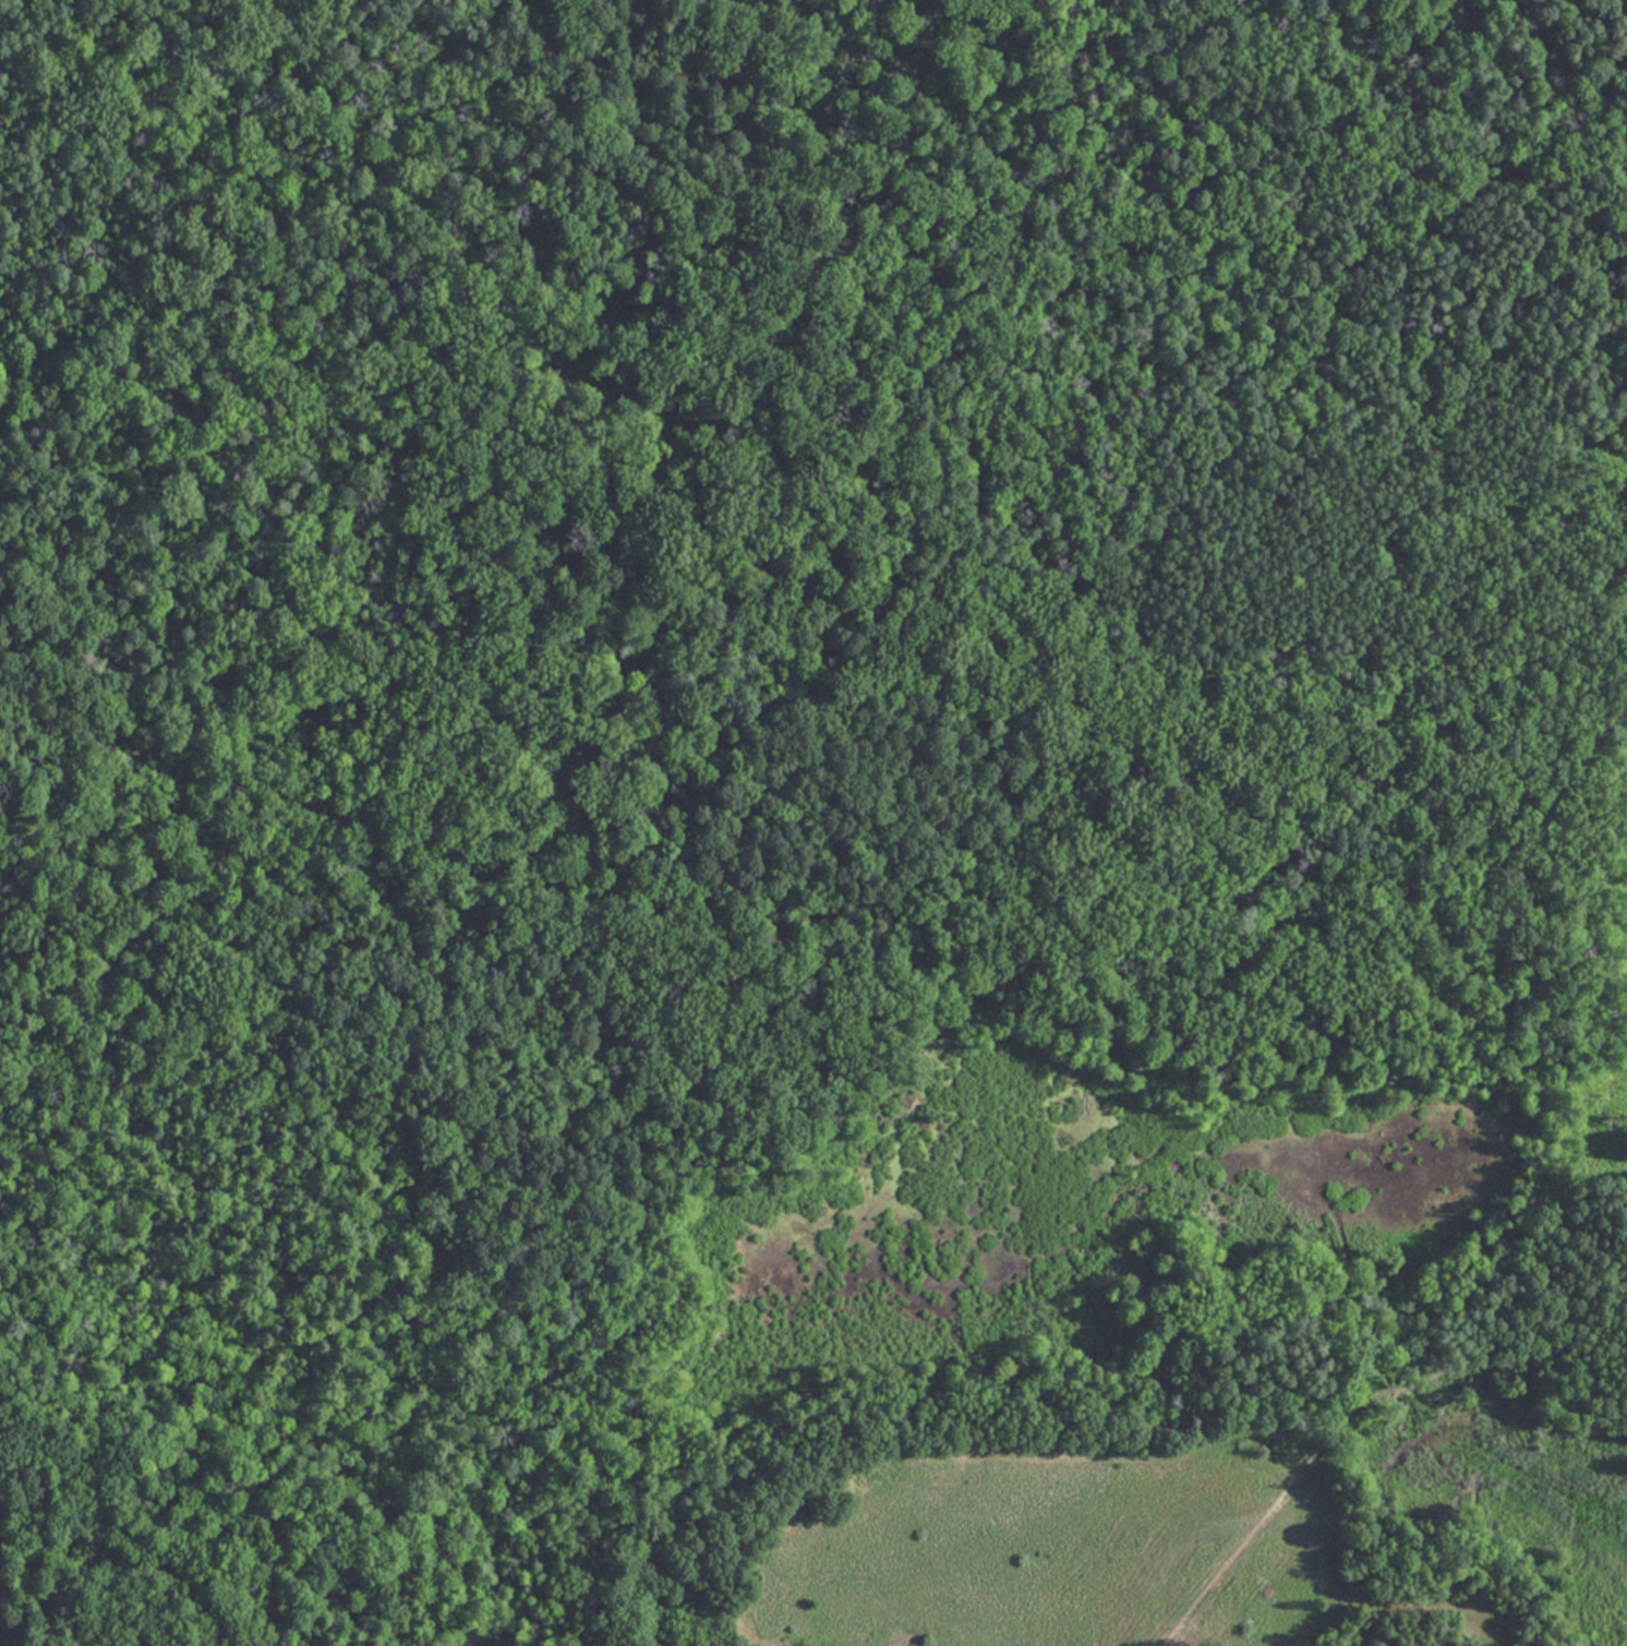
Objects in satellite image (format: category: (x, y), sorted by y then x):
park: (813, 822)

